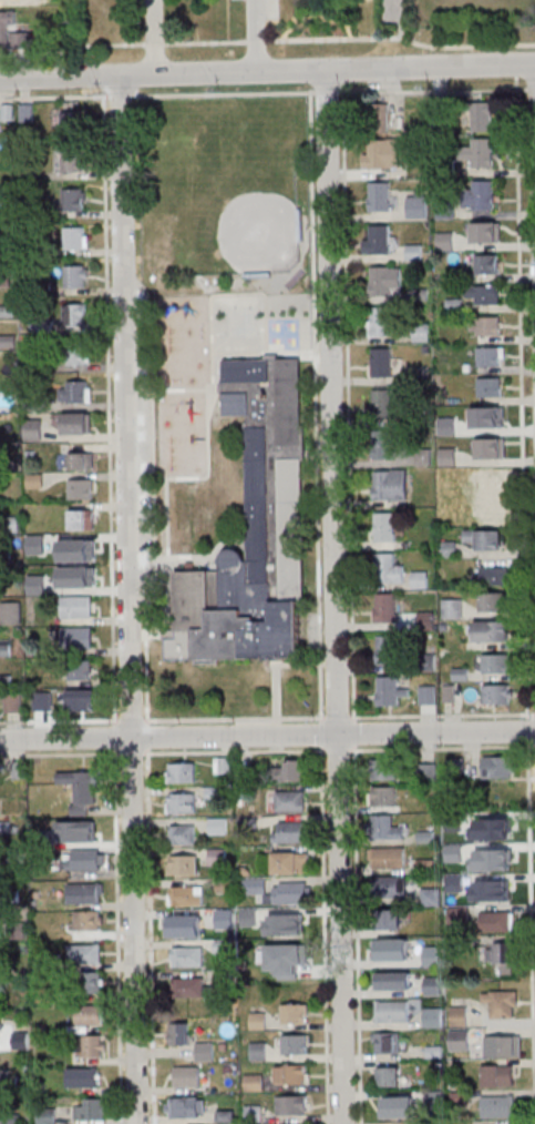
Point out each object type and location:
road: (290, 4)
road: (335, 8)
road: (274, 9)
road: (354, 12)
parking lot: (263, 16)
road: (344, 22)
building: (12, 32)
road: (282, 34)
road: (395, 34)
road: (259, 36)
road: (154, 37)
road: (330, 38)
road: (254, 41)
road: (121, 44)
road: (464, 45)
road: (516, 70)
road: (267, 72)
road: (310, 75)
road: (344, 77)
road: (102, 81)
road: (529, 89)
road: (430, 90)
road: (323, 91)
road: (223, 93)
road: (53, 95)
road: (119, 95)
building: (482, 115)
building: (380, 120)
building: (72, 122)
building: (480, 152)
building: (385, 154)
building: (72, 160)
building: (481, 194)
park: (224, 196)
building: (381, 198)
building: (74, 199)
park: (227, 204)
building: (416, 205)
building: (483, 232)
building: (75, 237)
building: (381, 241)
building: (487, 263)
building: (76, 276)
building: (382, 282)
building: (483, 293)
building: (76, 314)
building: (382, 322)
building: (483, 325)
road: (290, 351)
building: (76, 354)
building: (488, 355)
building: (383, 363)
building: (490, 386)
road: (186, 389)
building: (76, 391)
road: (522, 396)
road: (315, 401)
road: (348, 402)
building: (383, 405)
road: (109, 417)
building: (79, 425)
building: (34, 429)
parking lot: (136, 437)
building: (384, 446)
building: (490, 447)
road: (207, 450)
building: (447, 456)
building: (81, 459)
building: (390, 486)
building: (81, 488)
building: (491, 490)
building: (82, 519)
building: (387, 528)
building: (254, 529)
building: (485, 538)
building: (447, 549)
building: (79, 553)
building: (387, 568)
building: (496, 575)
building: (79, 579)
road: (335, 596)
road: (127, 599)
building: (494, 601)
building: (76, 606)
building: (452, 608)
building: (388, 609)
building: (11, 614)
building: (492, 631)
building: (76, 637)
building: (392, 652)
building: (496, 662)
building: (80, 670)
building: (391, 692)
building: (498, 693)
building: (428, 695)
building: (42, 700)
building: (81, 700)
building: (12, 701)
road: (442, 713)
road: (336, 717)
road: (233, 719)
road: (59, 720)
road: (131, 720)
road: (528, 728)
road: (320, 732)
road: (354, 732)
road: (267, 735)
road: (147, 736)
road: (441, 747)
road: (337, 749)
road: (162, 750)
building: (222, 764)
building: (500, 766)
building: (456, 768)
building: (383, 769)
building: (294, 770)
building: (182, 772)
building: (429, 773)
building: (81, 788)
building: (214, 793)
building: (383, 794)
building: (290, 801)
building: (183, 802)
building: (219, 827)
building: (385, 827)
building: (455, 827)
building: (501, 828)
building: (81, 831)
building: (290, 831)
building: (183, 833)
building: (388, 857)
building: (218, 858)
building: (85, 859)
building: (290, 862)
building: (183, 864)
building: (428, 867)
building: (456, 884)
building: (225, 885)
building: (389, 885)
building: (254, 887)
building: (85, 892)
building: (292, 893)
building: (186, 894)
building: (432, 898)
building: (250, 918)
building: (461, 918)
building: (90, 920)
building: (387, 920)
building: (227, 921)
building: (497, 921)
building: (179, 925)
road: (531, 929)
road: (325, 934)
road: (357, 934)
road: (150, 935)
road: (117, 936)
building: (413, 951)
building: (393, 952)
building: (85, 953)
building: (294, 953)
building: (502, 953)
building: (186, 955)
building: (434, 959)
building: (89, 982)
building: (397, 983)
building: (192, 986)
building: (435, 988)
building: (500, 1003)
building: (393, 1012)
building: (295, 1013)
building: (90, 1014)
building: (459, 1016)
building: (434, 1017)
building: (258, 1020)
building: (178, 1033)
building: (461, 1037)
building: (384, 1042)
building: (296, 1043)
building: (94, 1045)
building: (502, 1045)
building: (205, 1050)
building: (258, 1050)
building: (292, 1073)
building: (500, 1074)
building: (187, 1075)
building: (84, 1076)
building: (389, 1076)
building: (254, 1082)
building: (291, 1105)
building: (397, 1105)
building: (185, 1106)
building: (497, 1106)
building: (92, 1107)
building: (254, 1112)
building: (48, 1115)

